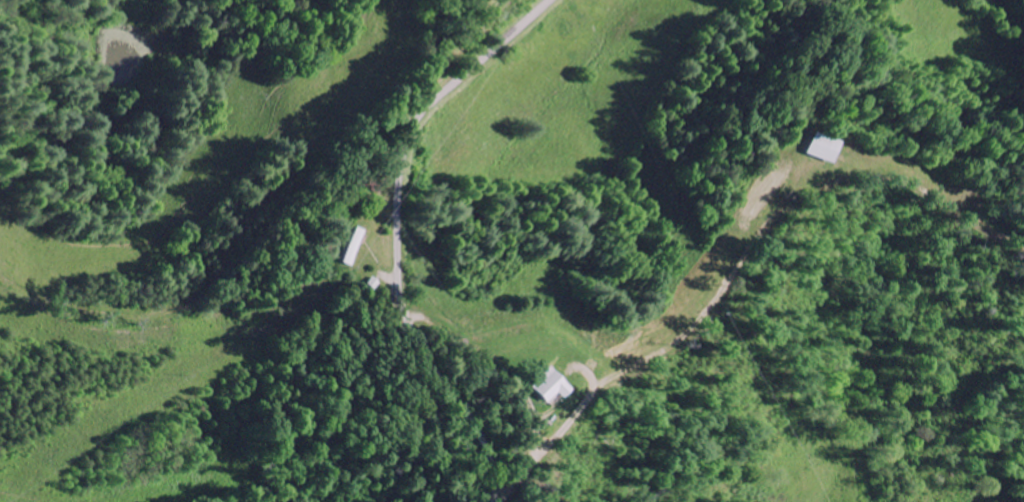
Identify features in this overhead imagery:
building: (822, 148)
road: (396, 232)
road: (745, 240)
building: (342, 259)
building: (543, 387)

